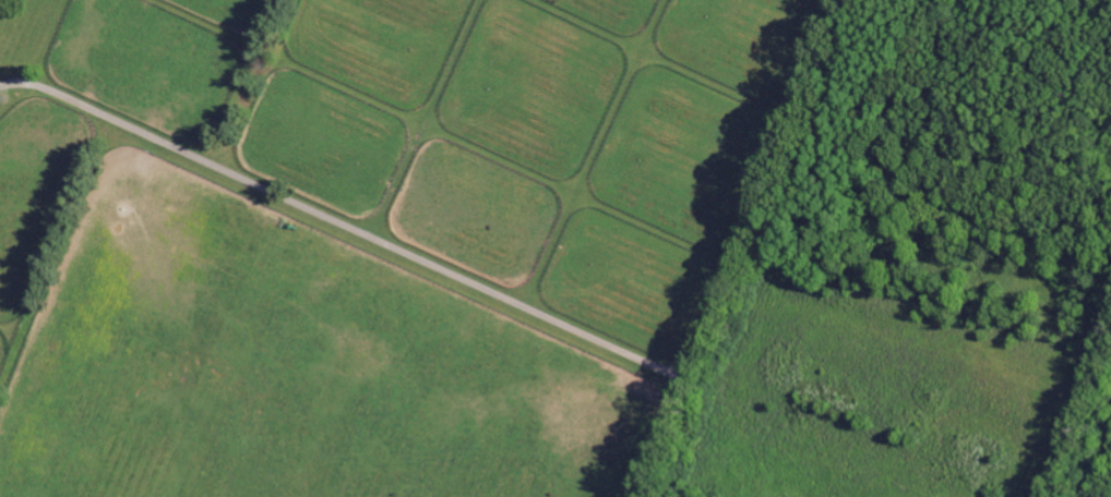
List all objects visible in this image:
road: (344, 226)
road: (740, 248)

